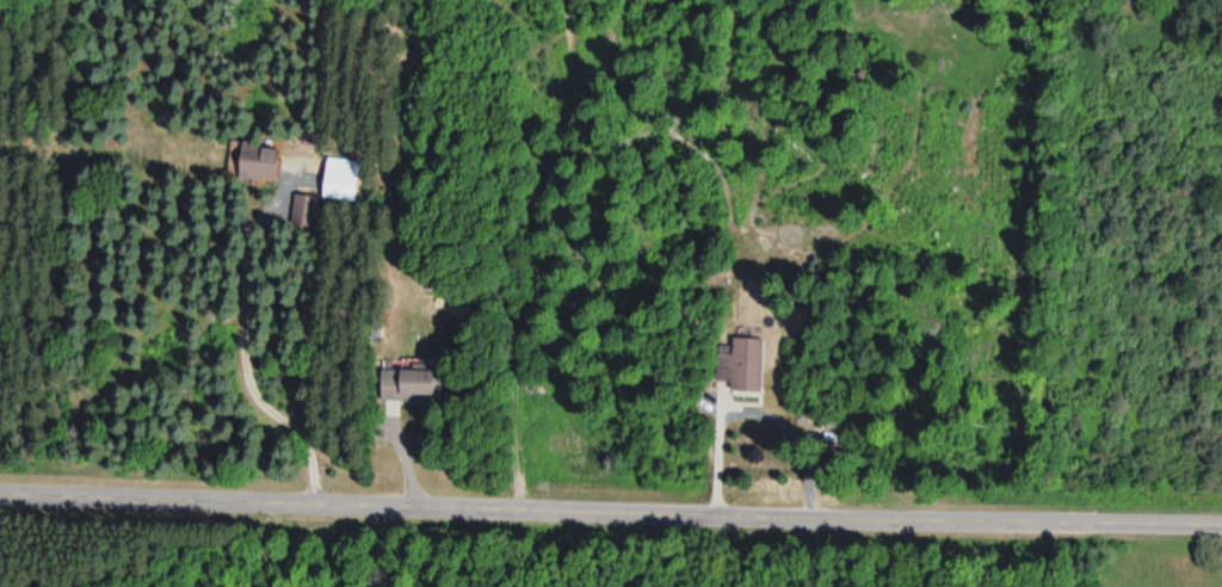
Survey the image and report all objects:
building: (252, 162)
building: (304, 205)
building: (739, 364)
building: (402, 381)
road: (610, 503)

